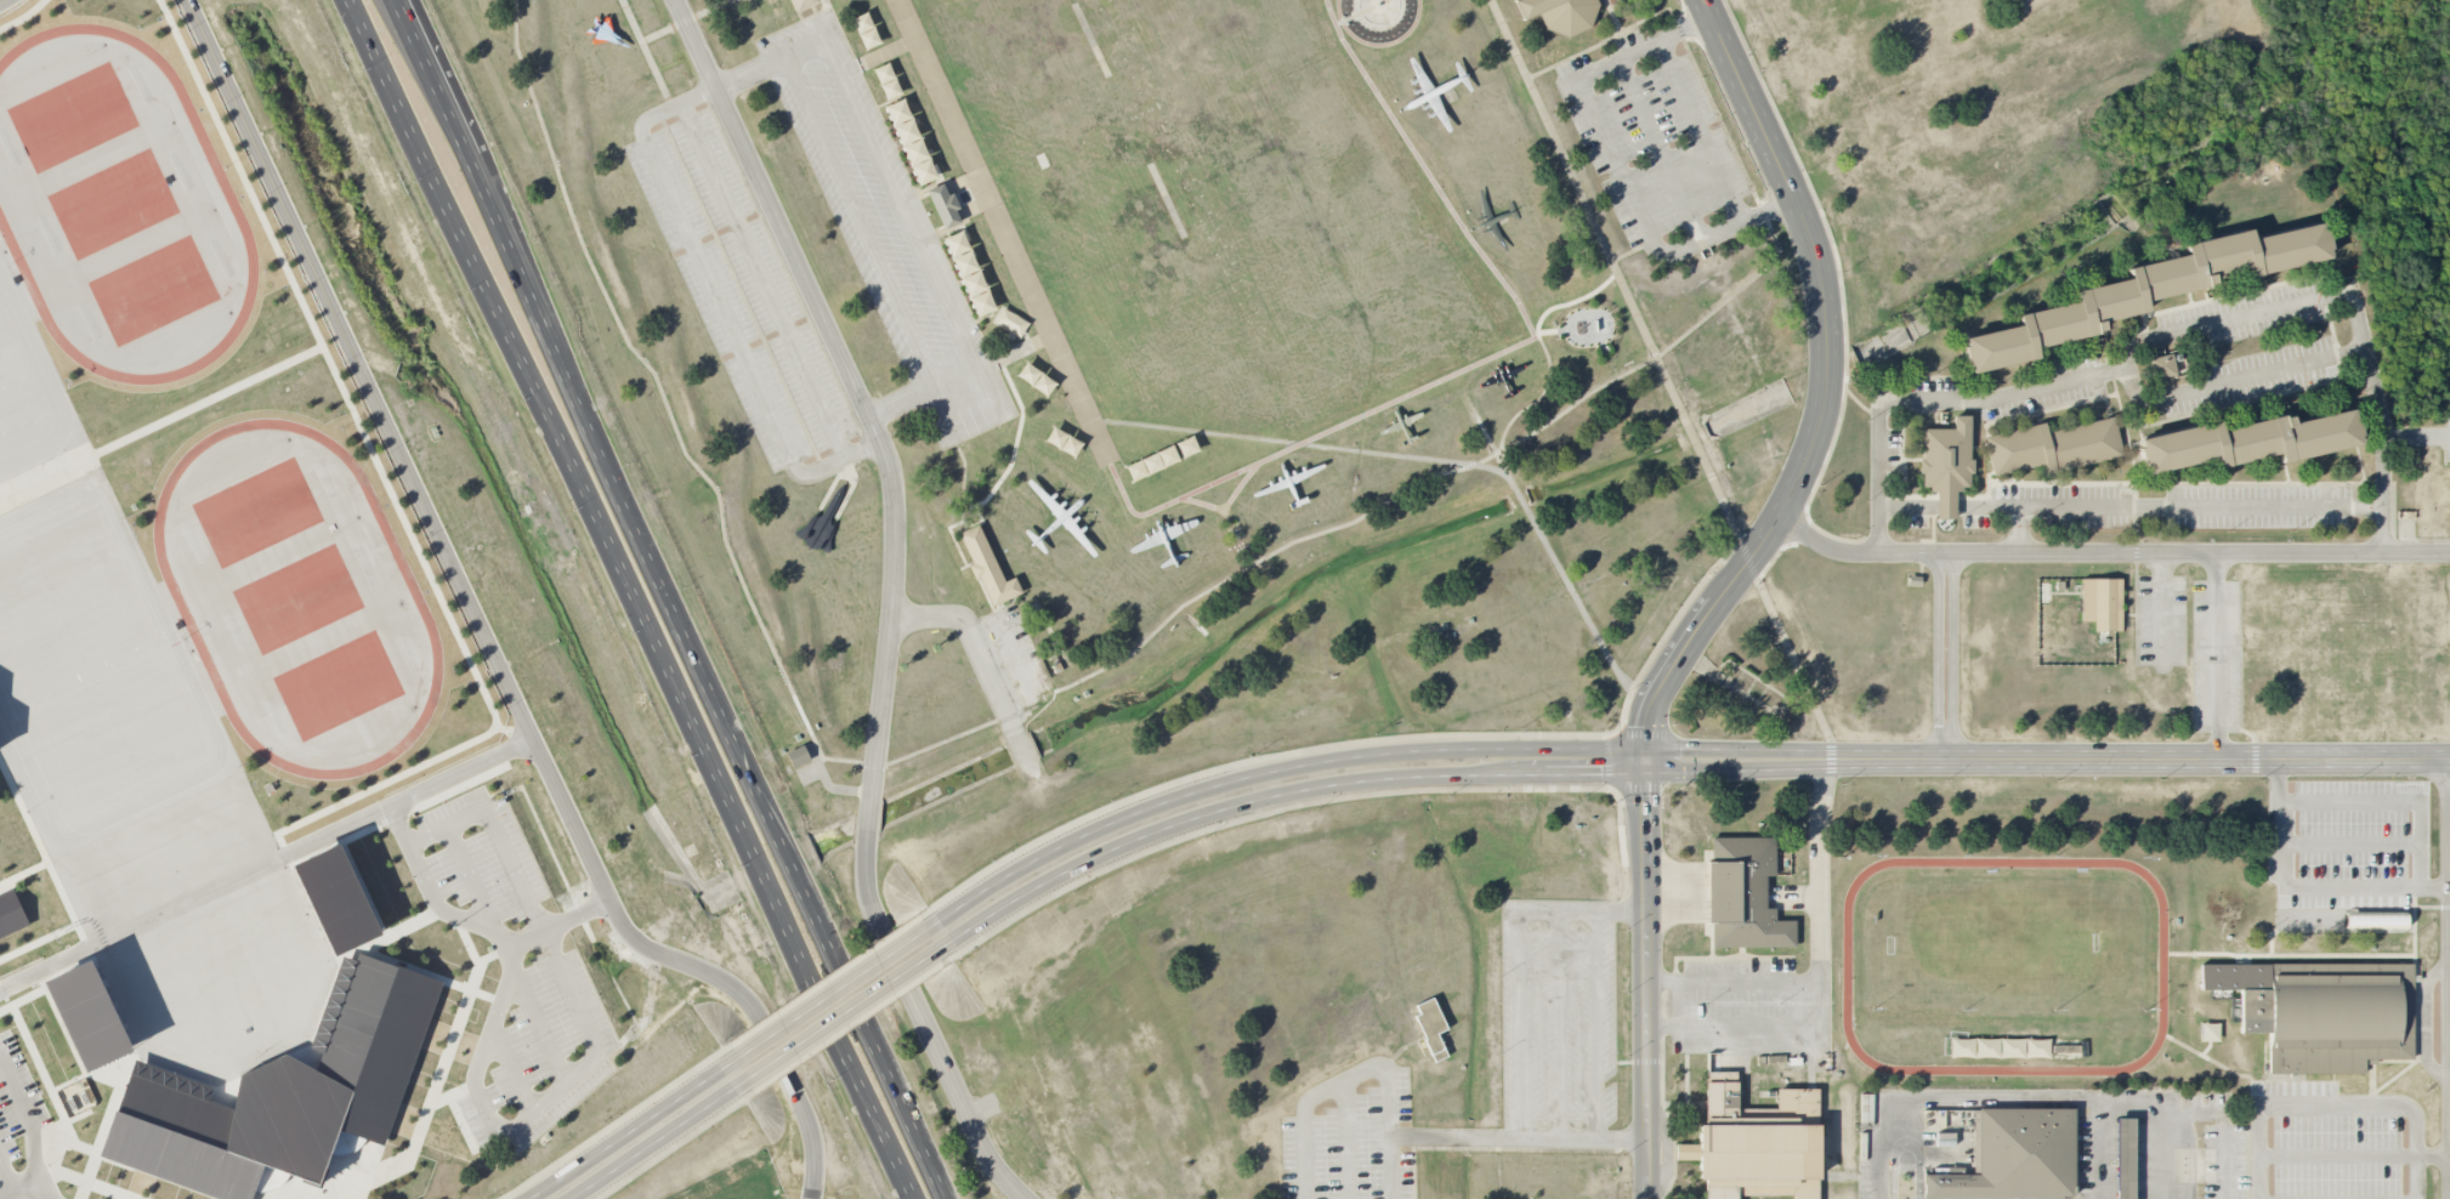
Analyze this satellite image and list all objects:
road: (2, 1)
building: (803, 4)
road: (1366, 12)
building: (1558, 13)
road: (22, 16)
road: (685, 19)
road: (1678, 19)
road: (1635, 23)
road: (643, 46)
road: (1575, 55)
road: (1695, 66)
parking lot: (1650, 132)
road: (1700, 132)
road: (1660, 150)
road: (1617, 164)
road: (900, 204)
building: (943, 206)
road: (861, 222)
parking lot: (885, 229)
building: (969, 274)
road: (764, 280)
road: (1842, 289)
parking lot: (742, 290)
building: (2143, 294)
road: (719, 300)
road: (2358, 305)
building: (1010, 323)
building: (2162, 366)
road: (1661, 368)
road: (335, 379)
road: (2239, 383)
road: (1824, 392)
road: (1855, 400)
road: (2007, 402)
road: (159, 421)
parking lot: (2149, 430)
road: (2417, 441)
building: (2246, 443)
road: (1300, 444)
building: (2053, 447)
building: (1951, 454)
road: (617, 476)
road: (1882, 482)
road: (575, 485)
road: (2134, 508)
road: (2393, 510)
road: (431, 524)
road: (1139, 528)
road: (2023, 530)
road: (1831, 535)
road: (2433, 540)
road: (2110, 555)
building: (987, 567)
road: (891, 596)
building: (2102, 602)
road: (1680, 612)
road: (970, 620)
parking lot: (2196, 644)
road: (1945, 657)
road: (2219, 657)
road: (1622, 676)
road: (945, 743)
building: (798, 756)
road: (1678, 761)
traffic signals: (1647, 762)
road: (381, 784)
road: (444, 794)
road: (2391, 801)
road: (1289, 806)
road: (2349, 842)
parking lot: (2349, 852)
road: (44, 854)
road: (265, 865)
road: (23, 873)
road: (471, 879)
road: (2304, 887)
road: (364, 893)
building: (1743, 893)
building: (338, 899)
road: (1584, 910)
building: (11, 914)
road: (558, 924)
park: (2012, 931)
road: (38, 941)
road: (469, 944)
road: (361, 948)
track: (1847, 966)
parking lot: (510, 971)
road: (425, 973)
road: (1819, 978)
road: (1649, 981)
road: (1734, 981)
road: (822, 982)
road: (46, 988)
road: (856, 995)
road: (1678, 1004)
road: (6, 1008)
road: (835, 1008)
parking lot: (1753, 1008)
road: (826, 1011)
building: (2324, 1011)
parking lot: (1558, 1012)
building: (89, 1015)
road: (1522, 1022)
road: (538, 1023)
road: (1559, 1023)
road: (1595, 1023)
road: (849, 1025)
building: (1431, 1025)
building: (2210, 1032)
building: (2012, 1049)
road: (511, 1067)
road: (1357, 1072)
road: (103, 1079)
road: (795, 1089)
road: (432, 1092)
road: (447, 1096)
building: (285, 1097)
road: (1997, 1099)
road: (2335, 1107)
road: (534, 1108)
road: (2195, 1110)
road: (78, 1114)
road: (912, 1118)
road: (463, 1124)
road: (612, 1124)
road: (2103, 1124)
road: (29, 1125)
road: (879, 1125)
road: (104, 1129)
parking lot: (21, 1130)
road: (1520, 1135)
road: (1346, 1140)
road: (641, 1141)
parking lot: (2333, 1142)
building: (1756, 1143)
parking lot: (1873, 1144)
parking lot: (1352, 1146)
parking lot: (2159, 1146)
road: (669, 1147)
road: (1881, 1149)
road: (1904, 1149)
road: (2337, 1155)
road: (2433, 1155)
building: (2015, 1157)
building: (2125, 1157)
road: (142, 1167)
road: (51, 1169)
road: (7, 1181)
road: (19, 1188)
road: (323, 1195)

